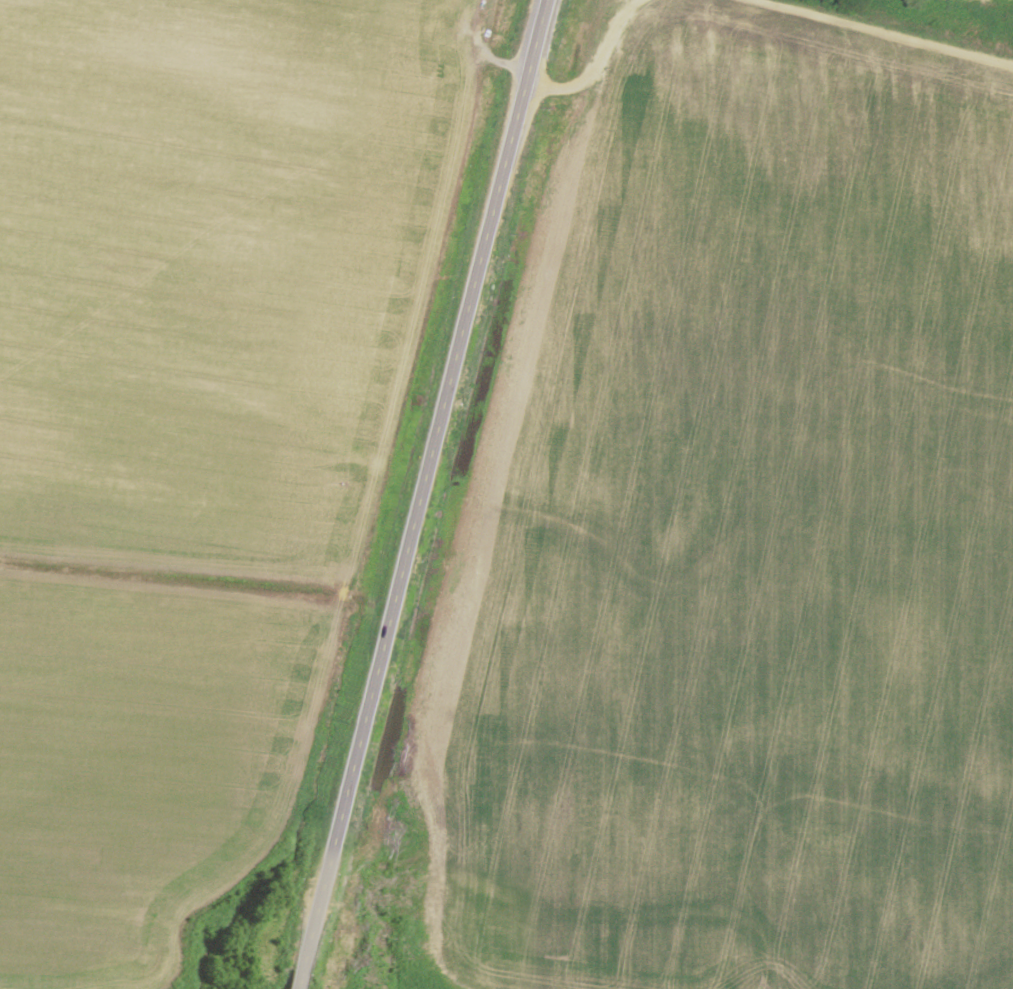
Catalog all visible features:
road: (422, 486)
road: (294, 980)

